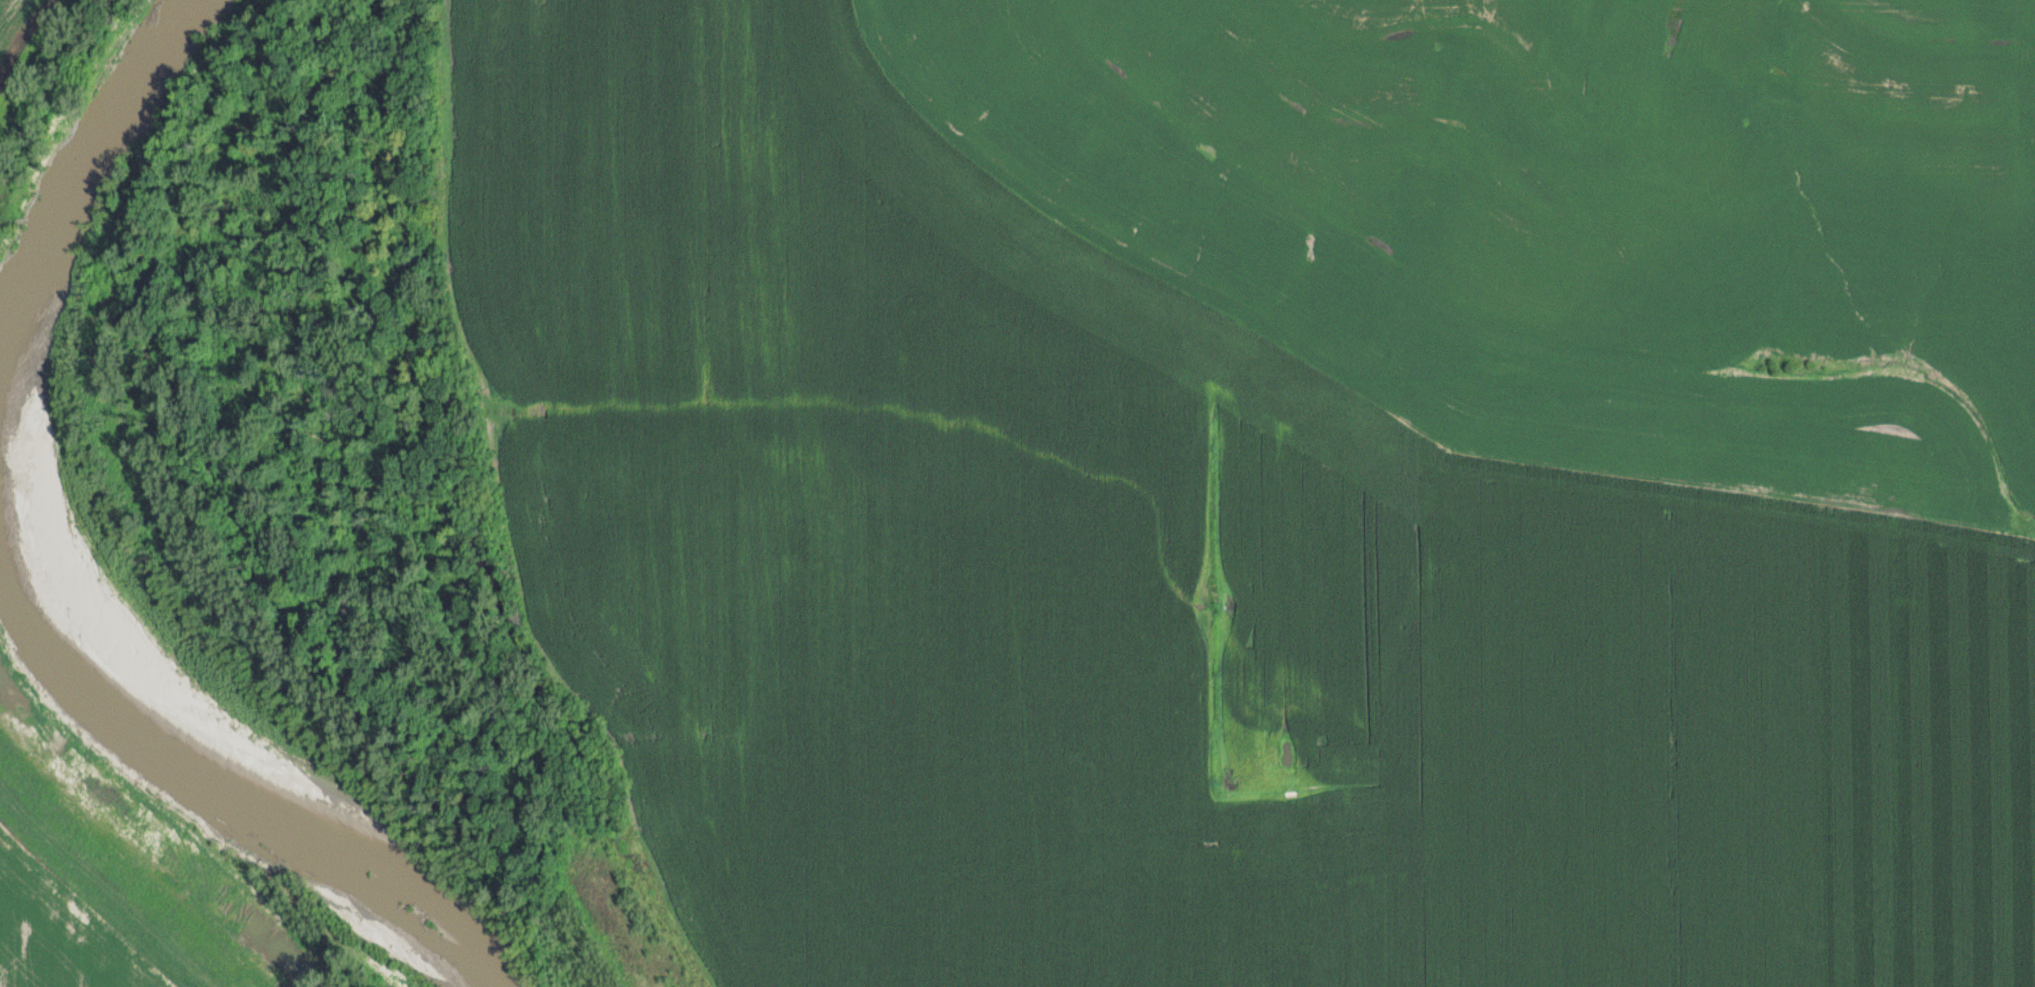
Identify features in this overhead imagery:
river: (84, 162)
river: (250, 730)

